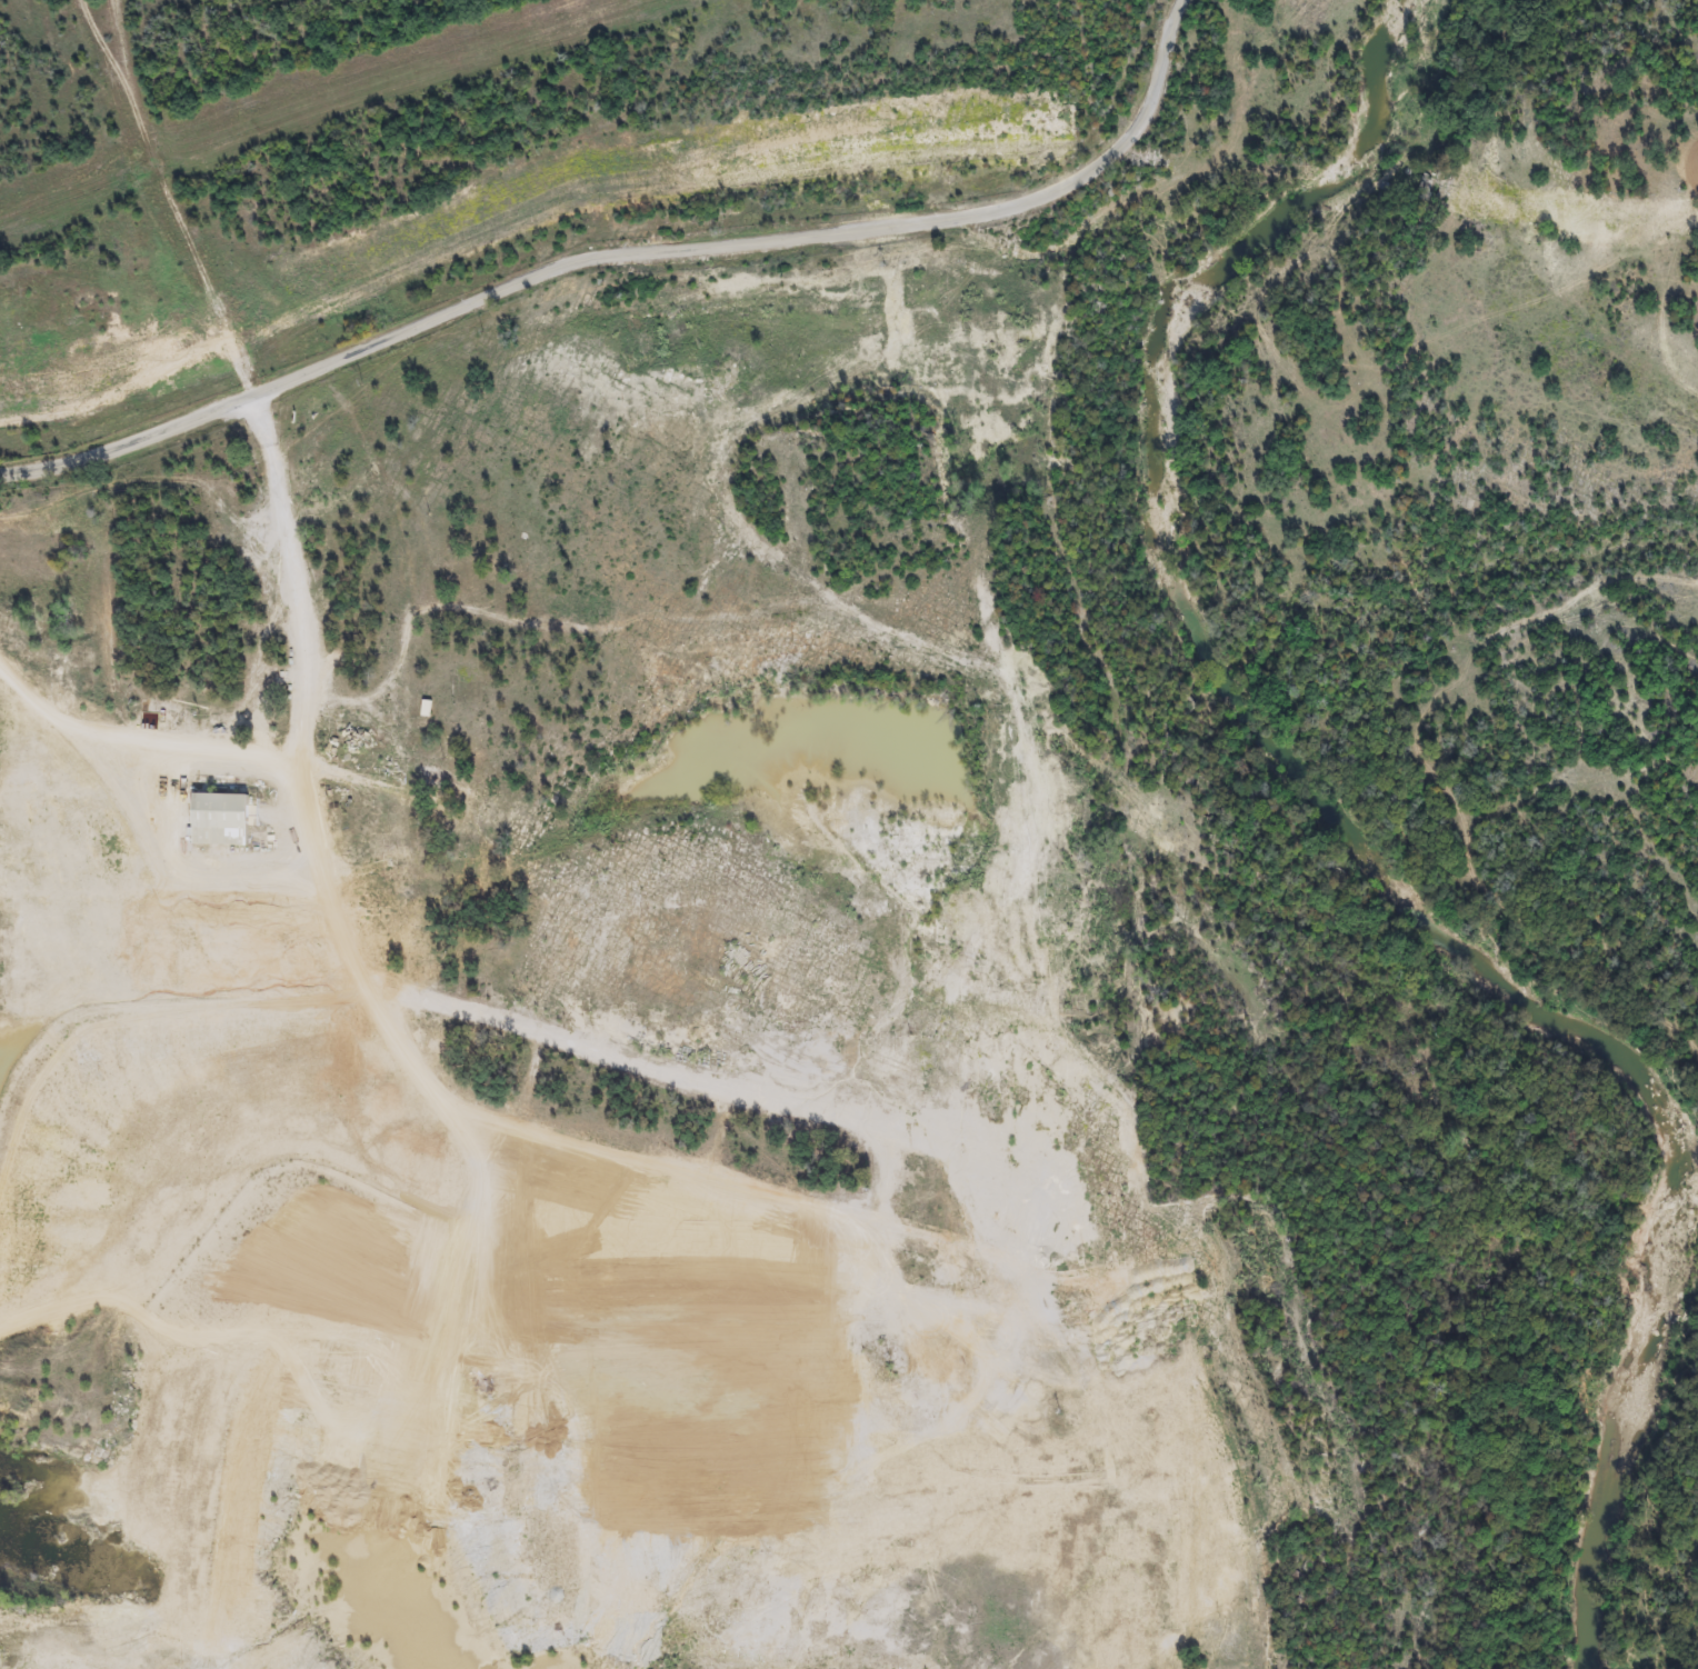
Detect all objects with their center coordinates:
road: (631, 254)
road: (293, 558)
road: (232, 762)
building: (217, 819)

